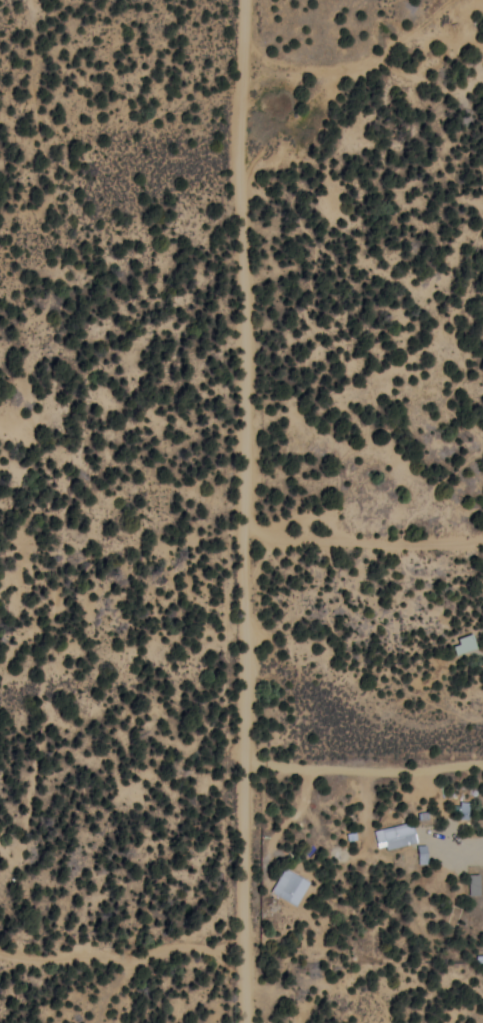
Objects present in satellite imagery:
road: (261, 511)
road: (372, 565)
building: (464, 644)
building: (395, 835)
building: (422, 853)
building: (474, 883)
building: (290, 885)

